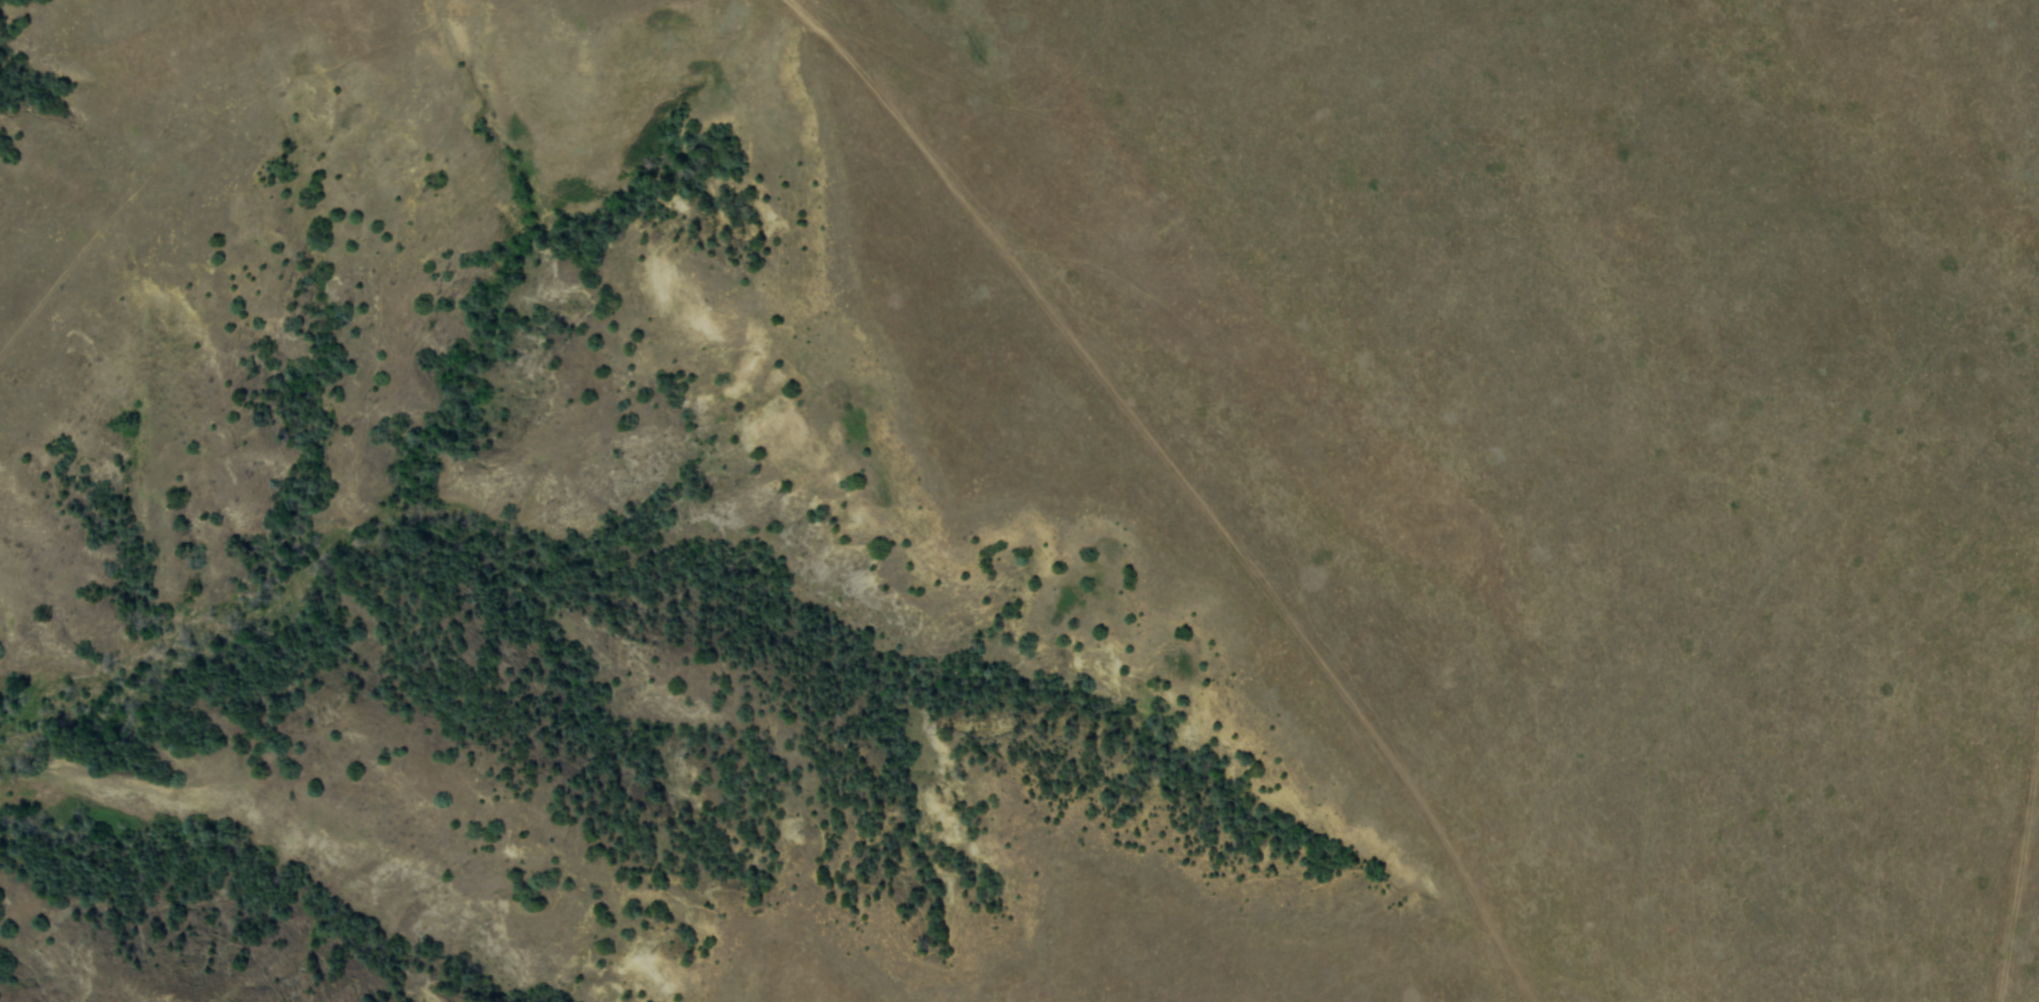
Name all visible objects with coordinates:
road: (1197, 457)
road: (1781, 556)

